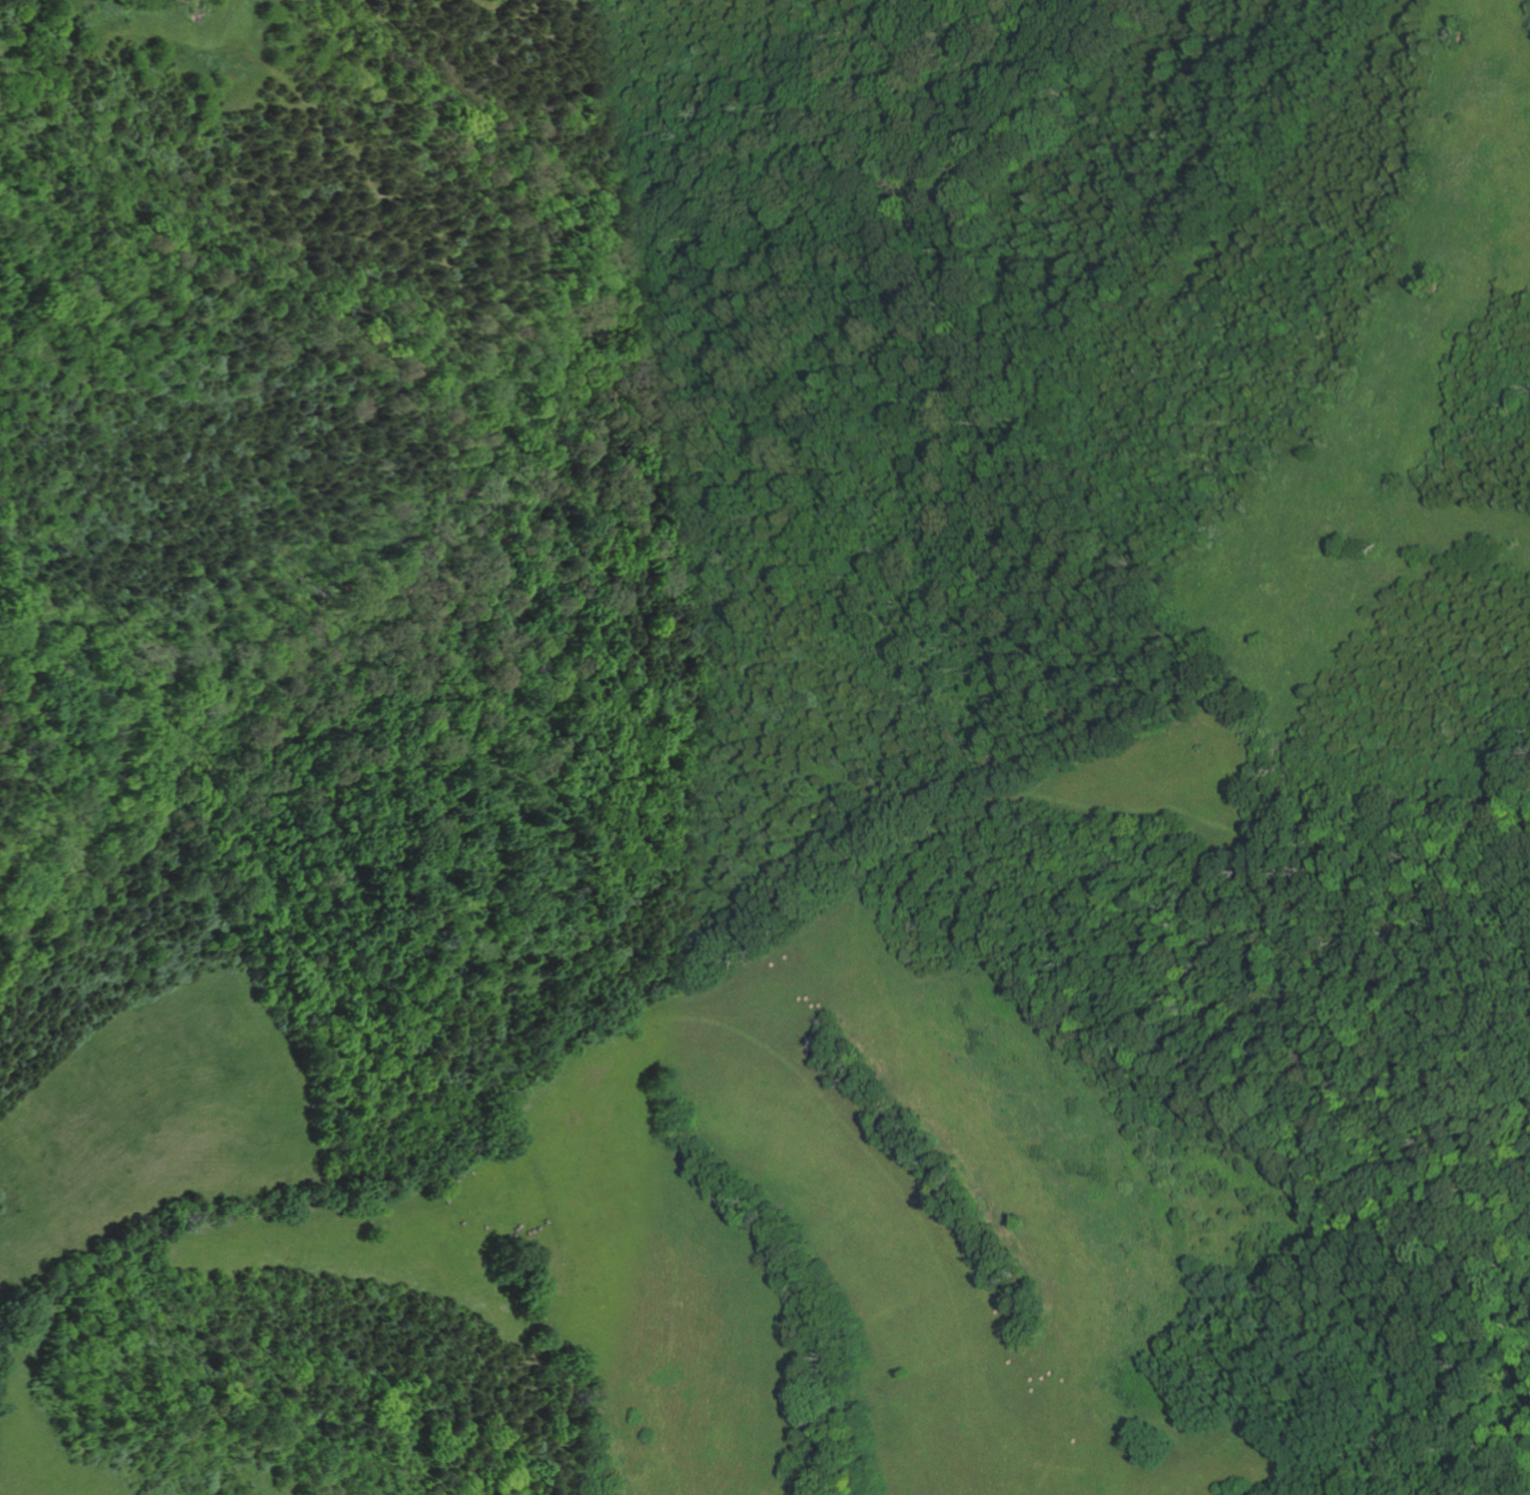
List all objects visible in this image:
building: (179, 0)

